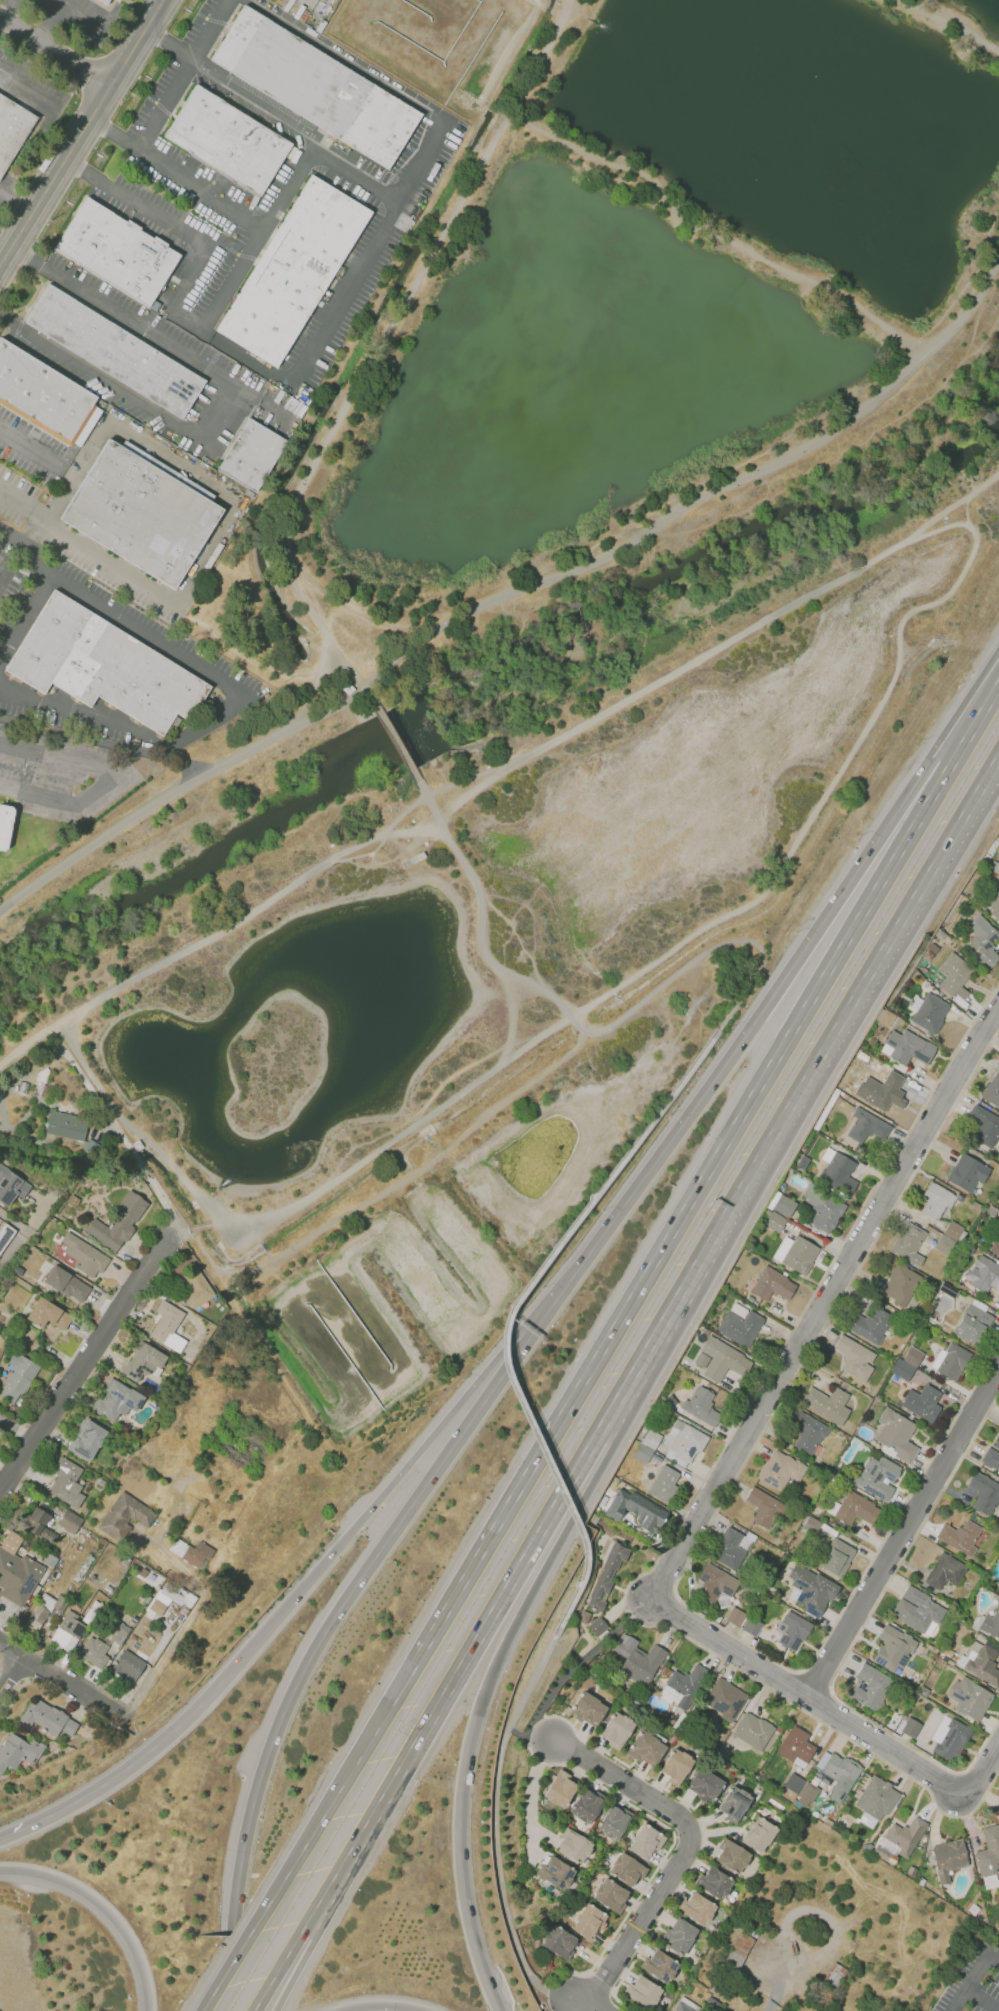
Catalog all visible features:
road: (309, 1)
road: (60, 2)
building: (106, 2)
road: (953, 20)
road: (55, 51)
road: (195, 52)
road: (541, 56)
building: (319, 87)
road: (258, 101)
road: (165, 104)
road: (89, 117)
building: (13, 130)
building: (230, 141)
road: (14, 209)
road: (257, 228)
road: (8, 229)
road: (713, 234)
road: (13, 241)
building: (120, 252)
road: (5, 254)
building: (295, 271)
road: (232, 279)
road: (332, 317)
road: (387, 329)
building: (117, 352)
building: (44, 394)
road: (221, 400)
road: (27, 448)
road: (159, 452)
building: (250, 454)
road: (22, 507)
road: (966, 510)
building: (144, 514)
road: (38, 558)
road: (107, 566)
road: (2, 569)
road: (508, 594)
road: (344, 605)
road: (24, 612)
road: (319, 624)
park: (543, 657)
road: (695, 662)
building: (107, 668)
road: (316, 684)
building: (348, 687)
road: (370, 695)
road: (228, 706)
road: (979, 715)
road: (398, 741)
road: (104, 746)
road: (945, 753)
road: (839, 771)
road: (114, 777)
road: (471, 792)
building: (7, 826)
road: (417, 831)
building: (414, 859)
building: (993, 867)
building: (993, 904)
road: (529, 909)
road: (520, 940)
building: (982, 942)
road: (504, 947)
road: (729, 962)
building: (954, 975)
building: (929, 1012)
road: (511, 1019)
road: (581, 1029)
road: (28, 1043)
road: (739, 1044)
building: (906, 1047)
road: (803, 1085)
road: (756, 1087)
building: (992, 1090)
building: (883, 1091)
building: (984, 1124)
building: (65, 1125)
building: (866, 1126)
road: (146, 1142)
building: (836, 1170)
building: (966, 1172)
building: (11, 1186)
road: (394, 1189)
building: (936, 1200)
building: (784, 1206)
building: (824, 1208)
road: (217, 1221)
building: (117, 1222)
building: (775, 1222)
road: (199, 1225)
road: (193, 1229)
building: (952, 1229)
road: (177, 1235)
road: (180, 1237)
building: (909, 1243)
building: (943, 1245)
building: (994, 1247)
road: (14, 1248)
building: (86, 1254)
building: (800, 1255)
building: (984, 1274)
building: (67, 1284)
building: (771, 1284)
building: (899, 1286)
building: (198, 1287)
building: (948, 1290)
road: (510, 1311)
road: (830, 1312)
building: (47, 1314)
building: (871, 1324)
building: (973, 1324)
building: (169, 1327)
building: (740, 1327)
building: (49, 1332)
building: (912, 1356)
building: (854, 1358)
building: (724, 1360)
building: (143, 1361)
road: (79, 1363)
building: (951, 1363)
building: (901, 1370)
building: (17, 1378)
building: (117, 1399)
building: (826, 1402)
building: (921, 1403)
building: (697, 1409)
building: (806, 1430)
building: (895, 1435)
building: (86, 1439)
building: (651, 1439)
building: (684, 1443)
building: (642, 1452)
building: (992, 1455)
building: (780, 1470)
building: (878, 1478)
building: (66, 1482)
building: (665, 1485)
road: (390, 1488)
building: (984, 1492)
road: (693, 1500)
building: (763, 1506)
building: (855, 1509)
building: (637, 1511)
building: (126, 1516)
building: (625, 1521)
building: (70, 1522)
building: (39, 1525)
building: (810, 1525)
building: (962, 1536)
road: (488, 1538)
road: (906, 1539)
road: (697, 1541)
building: (729, 1550)
building: (192, 1552)
building: (836, 1556)
building: (50, 1560)
building: (945, 1572)
building: (17, 1577)
building: (606, 1577)
building: (711, 1583)
road: (692, 1588)
building: (811, 1589)
road: (532, 1590)
road: (346, 1602)
building: (61, 1603)
building: (158, 1607)
building: (917, 1609)
building: (93, 1613)
building: (37, 1615)
building: (584, 1617)
building: (736, 1617)
building: (991, 1624)
building: (598, 1626)
building: (752, 1627)
building: (68, 1632)
building: (793, 1632)
building: (120, 1634)
road: (854, 1637)
building: (893, 1648)
road: (12, 1650)
building: (95, 1652)
building: (638, 1659)
road: (580, 1661)
building: (982, 1663)
building: (128, 1666)
road: (461, 1667)
road: (12, 1677)
road: (814, 1680)
building: (683, 1687)
building: (870, 1687)
road: (75, 1689)
road: (13, 1697)
building: (968, 1697)
road: (809, 1699)
building: (723, 1700)
building: (588, 1709)
building: (47, 1718)
building: (910, 1727)
building: (617, 1730)
building: (753, 1732)
road: (517, 1734)
road: (538, 1737)
building: (951, 1740)
building: (797, 1747)
building: (645, 1748)
building: (17, 1751)
road: (134, 1763)
building: (676, 1767)
road: (982, 1770)
building: (840, 1776)
road: (535, 1779)
building: (704, 1785)
building: (800, 1787)
building: (560, 1789)
building: (877, 1798)
building: (733, 1804)
building: (587, 1805)
building: (997, 1808)
road: (495, 1821)
building: (614, 1822)
road: (703, 1830)
road: (313, 1831)
road: (545, 1834)
building: (905, 1835)
building: (758, 1836)
building: (646, 1841)
road: (462, 1842)
road: (532, 1846)
building: (574, 1846)
road: (690, 1846)
road: (669, 1847)
building: (989, 1851)
building: (729, 1856)
building: (948, 1858)
building: (627, 1868)
building: (556, 1872)
building: (712, 1882)
building: (610, 1894)
road: (103, 1908)
building: (695, 1908)
road: (819, 1910)
building: (590, 1921)
building: (676, 1936)
building: (558, 1941)
building: (738, 1950)
road: (994, 1956)
road: (480, 1961)
road: (283, 1964)
road: (298, 1966)
building: (657, 1966)
building: (833, 1974)
parking lot: (975, 1981)
road: (783, 1982)
road: (969, 1982)
building: (644, 1993)
road: (983, 1997)
road: (582, 2001)
road: (379, 2006)
building: (681, 2007)

